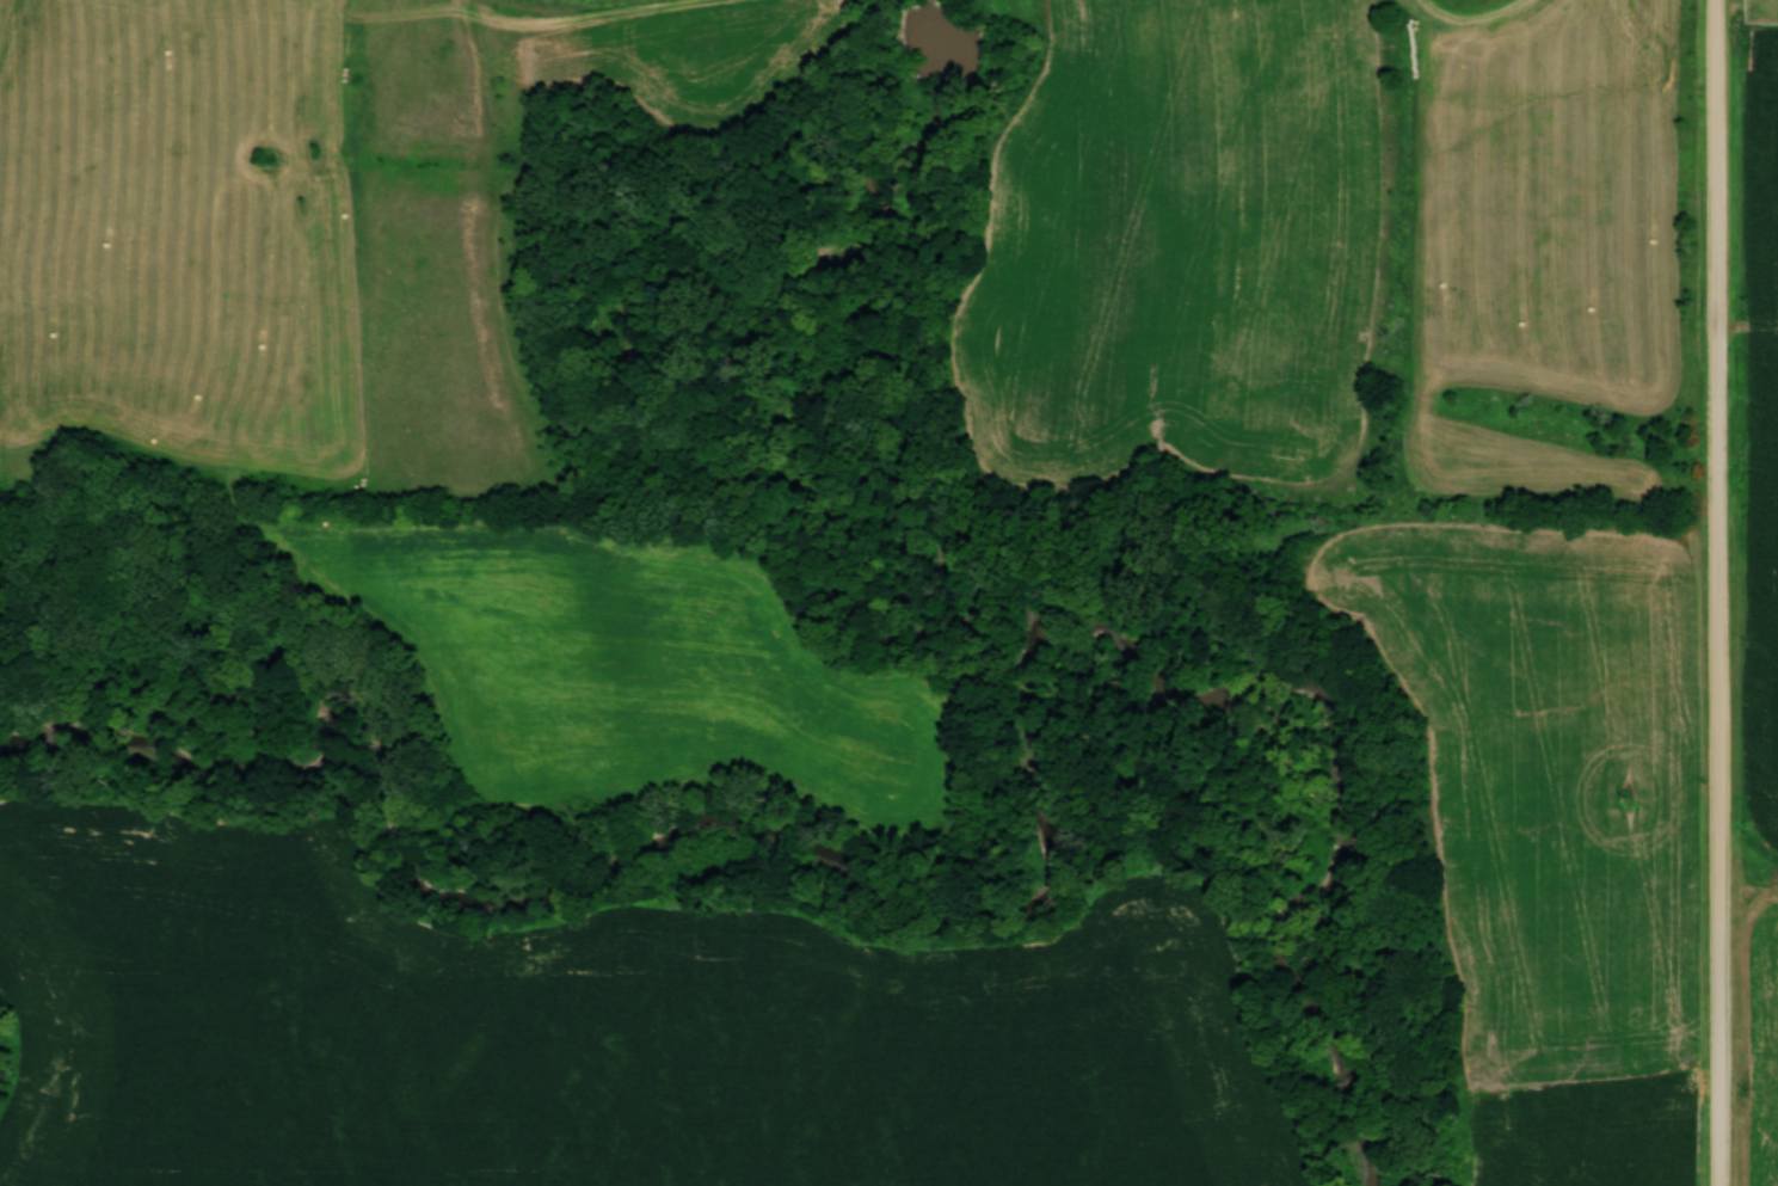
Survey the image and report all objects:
road: (1722, 592)

